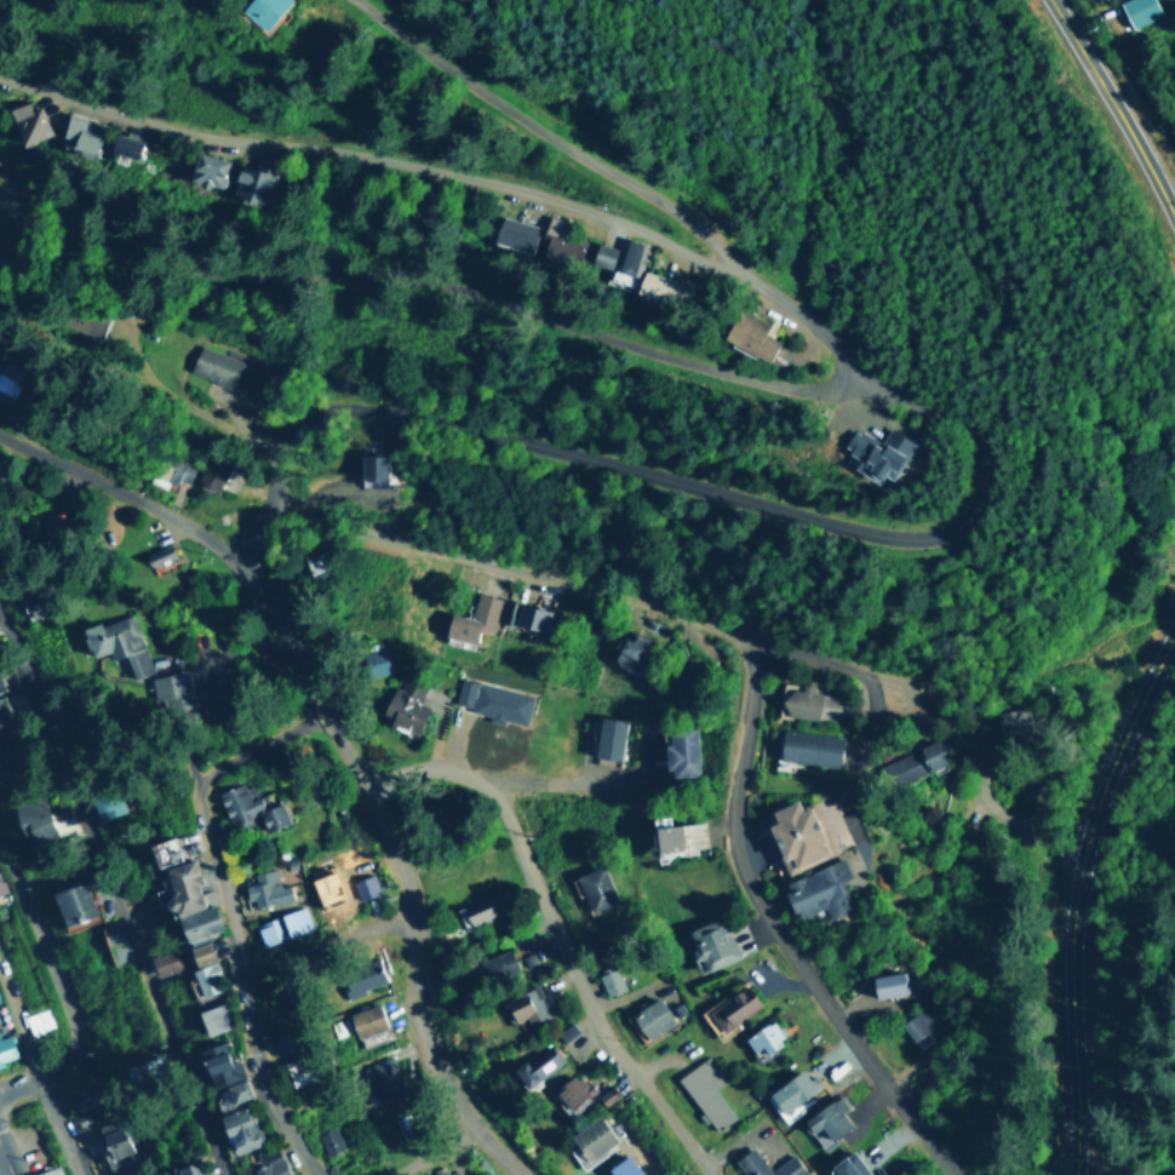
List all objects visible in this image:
building: (262, 10)
building: (1137, 10)
road: (1113, 114)
building: (80, 132)
building: (122, 144)
road: (376, 153)
building: (212, 170)
building: (256, 183)
building: (515, 231)
building: (558, 241)
building: (618, 260)
building: (660, 290)
building: (749, 333)
building: (212, 365)
road: (733, 374)
road: (193, 409)
building: (875, 452)
building: (366, 466)
building: (174, 472)
building: (212, 474)
road: (681, 480)
road: (270, 544)
road: (660, 606)
building: (532, 617)
building: (472, 618)
building: (115, 642)
building: (632, 650)
road: (818, 655)
building: (373, 660)
building: (0, 688)
building: (171, 689)
building: (489, 700)
building: (810, 703)
building: (403, 704)
building: (5, 710)
building: (606, 738)
road: (259, 745)
building: (808, 746)
building: (682, 751)
building: (911, 763)
road: (870, 767)
building: (246, 807)
building: (36, 814)
building: (795, 833)
building: (681, 837)
building: (162, 850)
road: (396, 859)
building: (363, 885)
building: (264, 888)
building: (594, 888)
building: (815, 889)
road: (1073, 889)
building: (0, 890)
road: (116, 895)
building: (75, 901)
building: (188, 901)
building: (475, 915)
building: (281, 924)
road: (775, 930)
road: (557, 933)
building: (115, 939)
building: (710, 944)
road: (328, 945)
building: (201, 953)
road: (47, 957)
building: (165, 961)
building: (495, 965)
building: (360, 976)
building: (207, 978)
building: (609, 980)
building: (894, 981)
road: (251, 982)
building: (525, 1005)
building: (729, 1008)
building: (212, 1018)
building: (649, 1018)
building: (38, 1020)
building: (917, 1022)
building: (365, 1024)
road: (19, 1027)
building: (760, 1037)
building: (7, 1048)
building: (218, 1064)
building: (147, 1066)
building: (534, 1068)
building: (294, 1071)
building: (380, 1079)
road: (19, 1087)
building: (571, 1090)
building: (790, 1090)
building: (233, 1091)
building: (704, 1091)
building: (85, 1094)
building: (604, 1094)
building: (825, 1120)
road: (58, 1128)
building: (237, 1129)
building: (591, 1137)
building: (329, 1140)
building: (114, 1142)
road: (640, 1150)
road: (440, 1152)
road: (5, 1159)
building: (270, 1162)
building: (749, 1163)
parking lot: (4, 1164)
building: (843, 1165)
building: (625, 1167)
building: (187, 1169)
building: (51, 1170)
building: (448, 1173)

